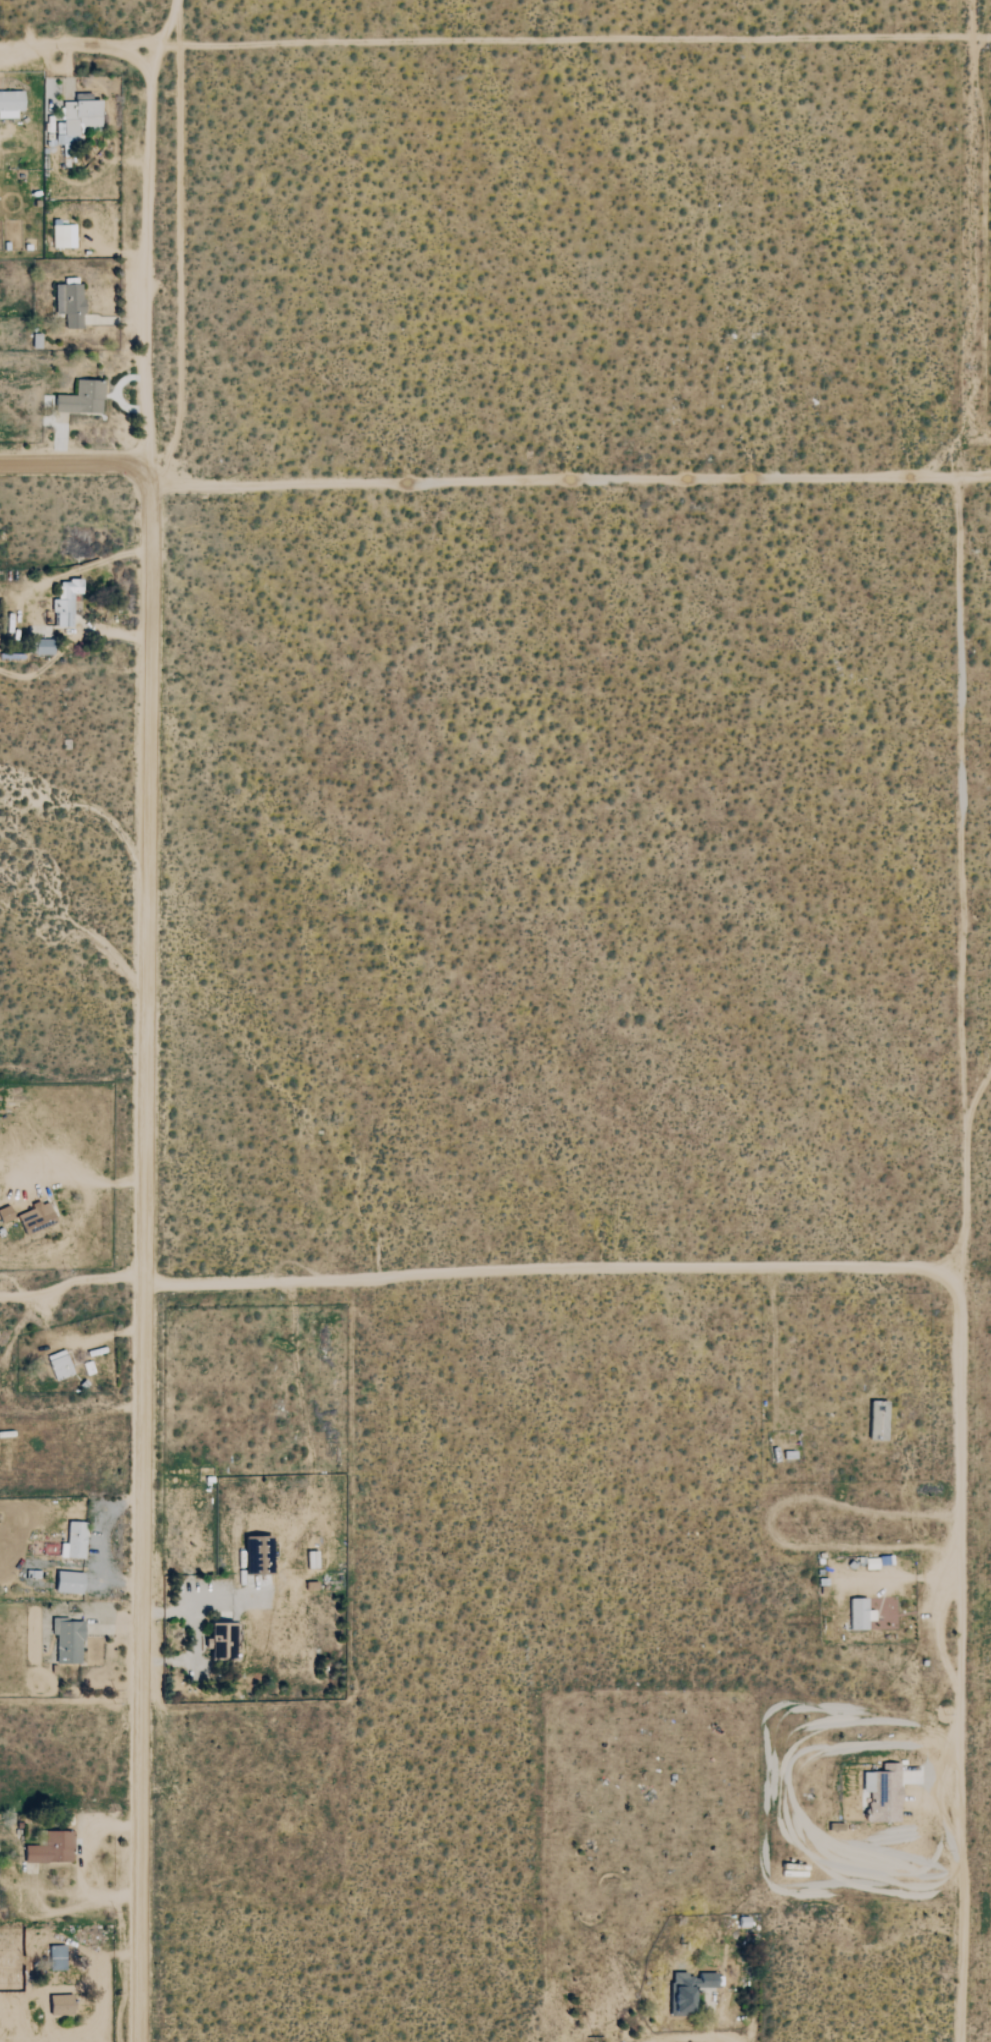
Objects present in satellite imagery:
road: (576, 43)
road: (81, 51)
building: (76, 117)
building: (61, 235)
road: (147, 243)
road: (976, 243)
building: (67, 304)
building: (80, 398)
road: (74, 469)
road: (573, 484)
road: (92, 571)
building: (63, 602)
building: (41, 639)
road: (86, 1176)
building: (5, 1213)
building: (33, 1218)
road: (151, 1263)
road: (555, 1269)
road: (74, 1286)
building: (57, 1365)
road: (770, 1521)
building: (72, 1541)
building: (66, 1582)
building: (857, 1614)
building: (66, 1641)
building: (218, 1641)
road: (956, 1657)
building: (881, 1793)
building: (50, 1849)
road: (71, 1917)
building: (55, 1958)
road: (97, 1978)
building: (685, 1991)
building: (59, 2005)

